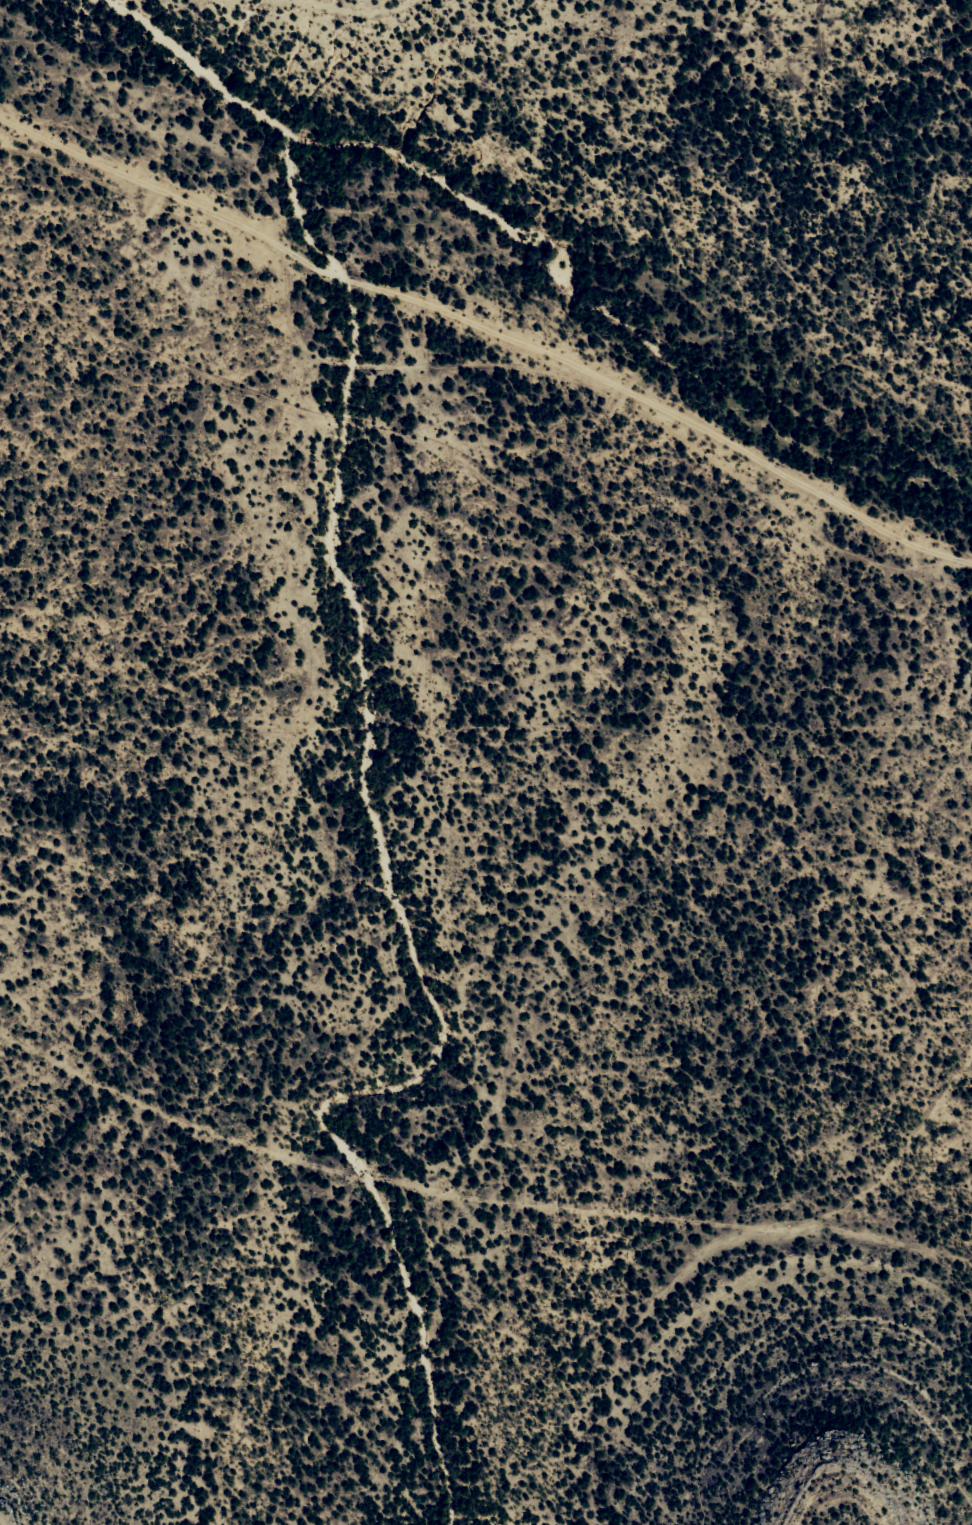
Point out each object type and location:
road: (485, 379)
road: (701, 724)

